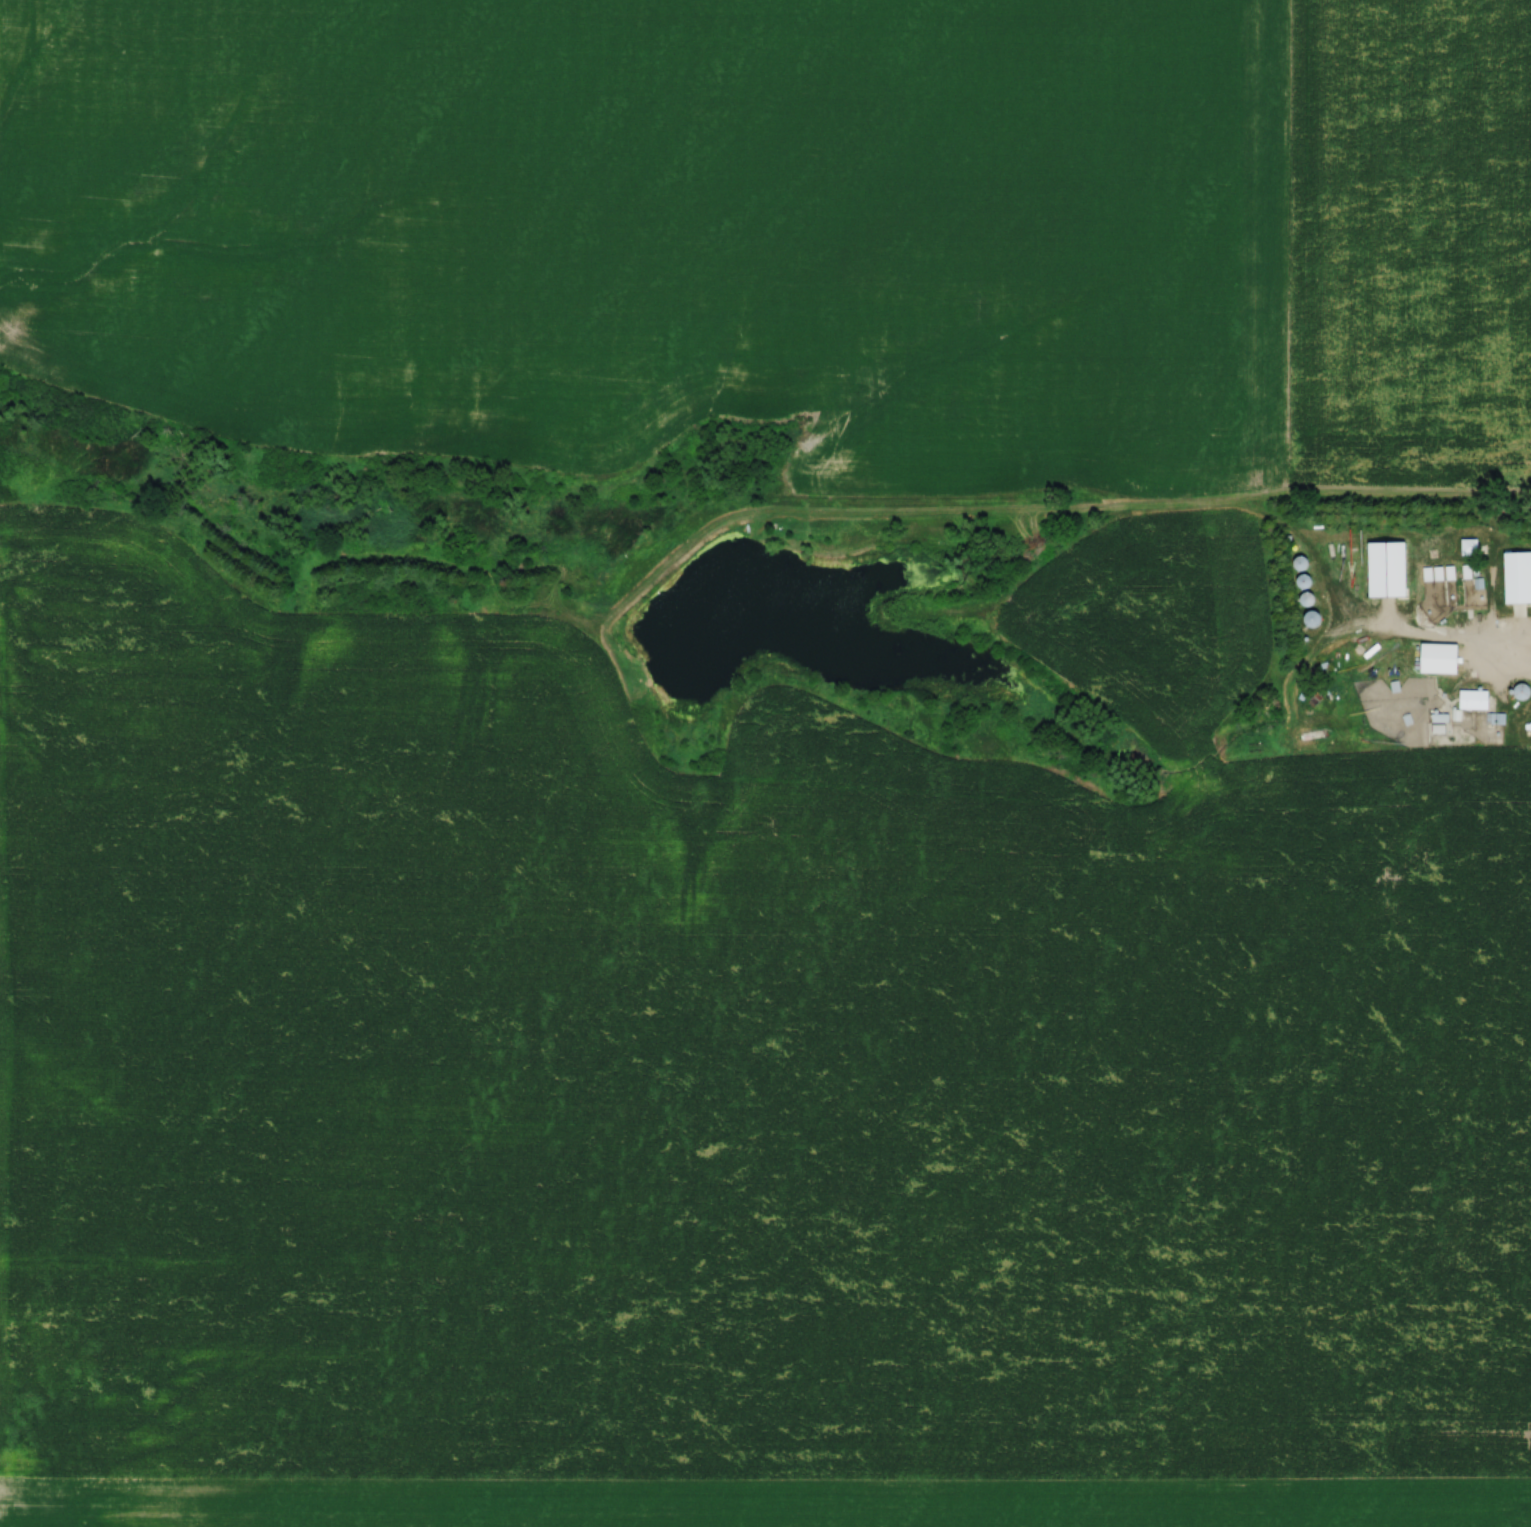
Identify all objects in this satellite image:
building: (1517, 578)
road: (1517, 656)
building: (1441, 658)
building: (1473, 699)

